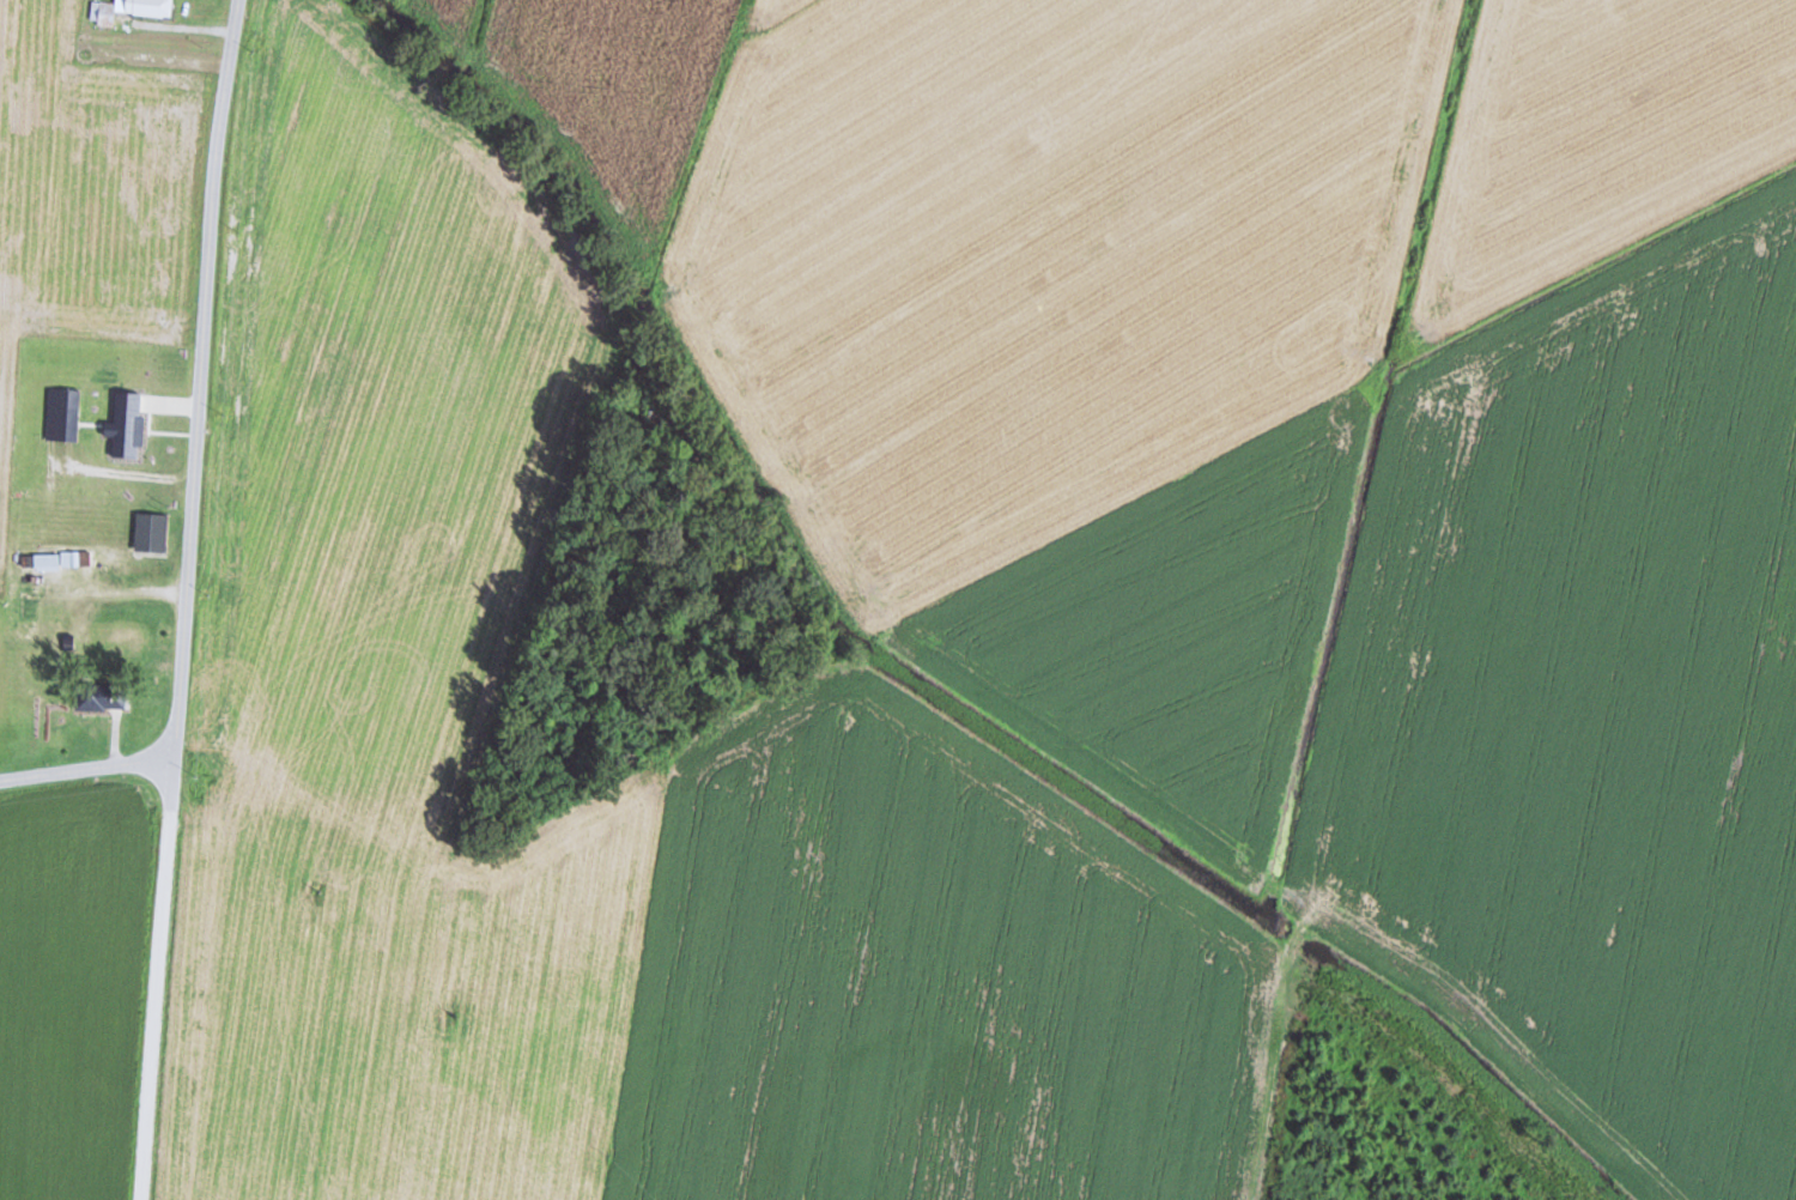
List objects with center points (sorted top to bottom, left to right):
building: (128, 10)
building: (148, 551)
building: (47, 562)
building: (115, 574)
road: (187, 599)
building: (23, 607)
building: (122, 638)
building: (91, 698)
road: (87, 772)

